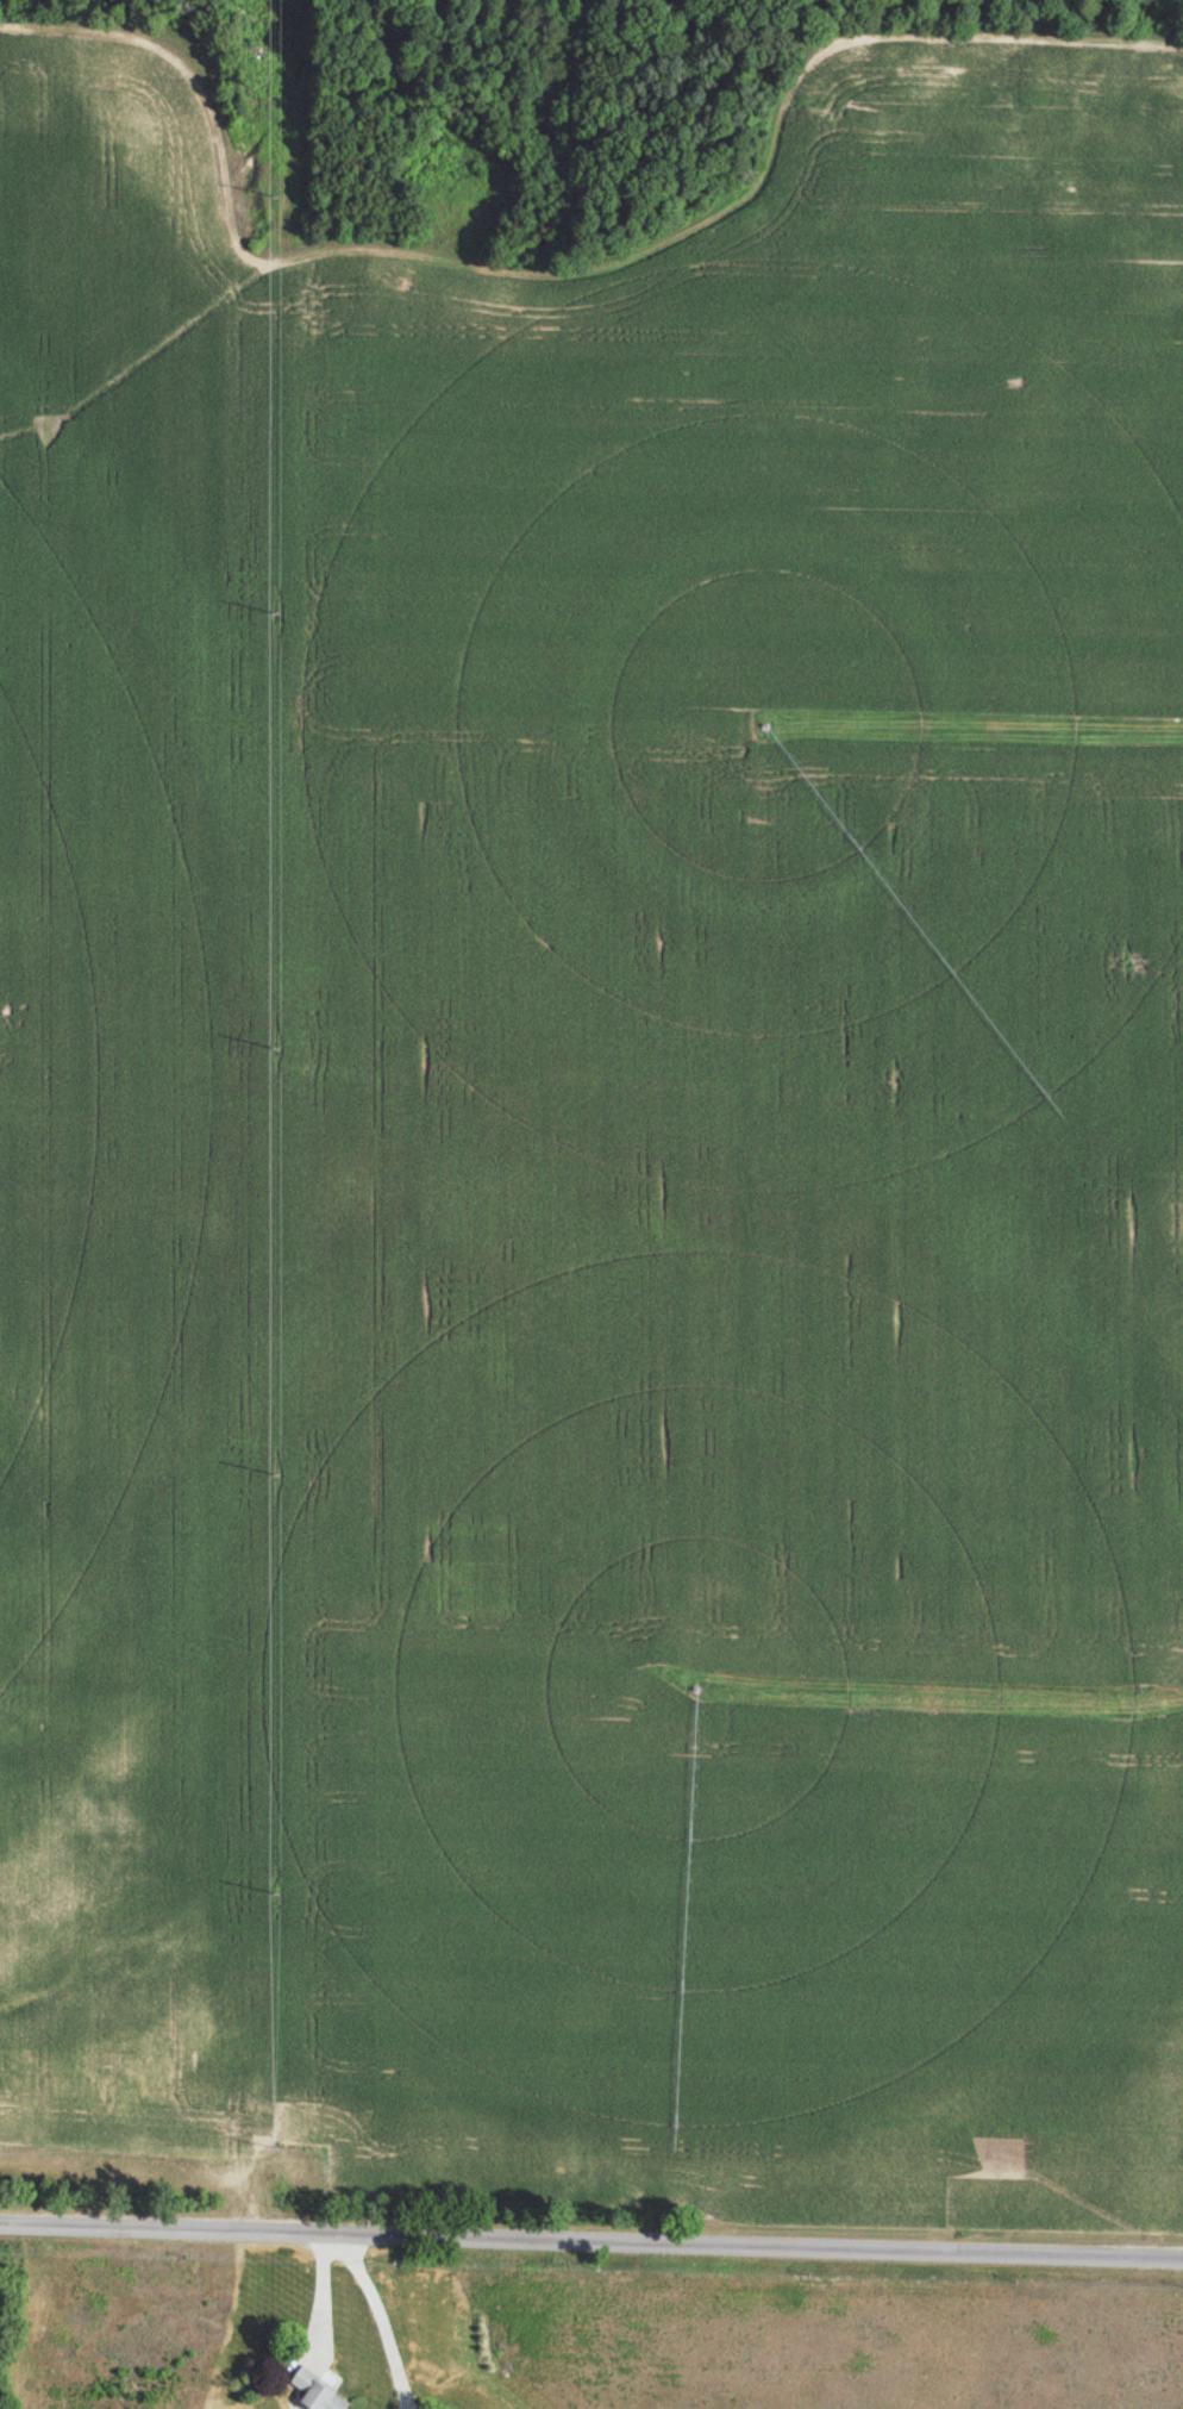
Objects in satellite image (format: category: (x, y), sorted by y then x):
road: (591, 2242)
building: (312, 2392)

